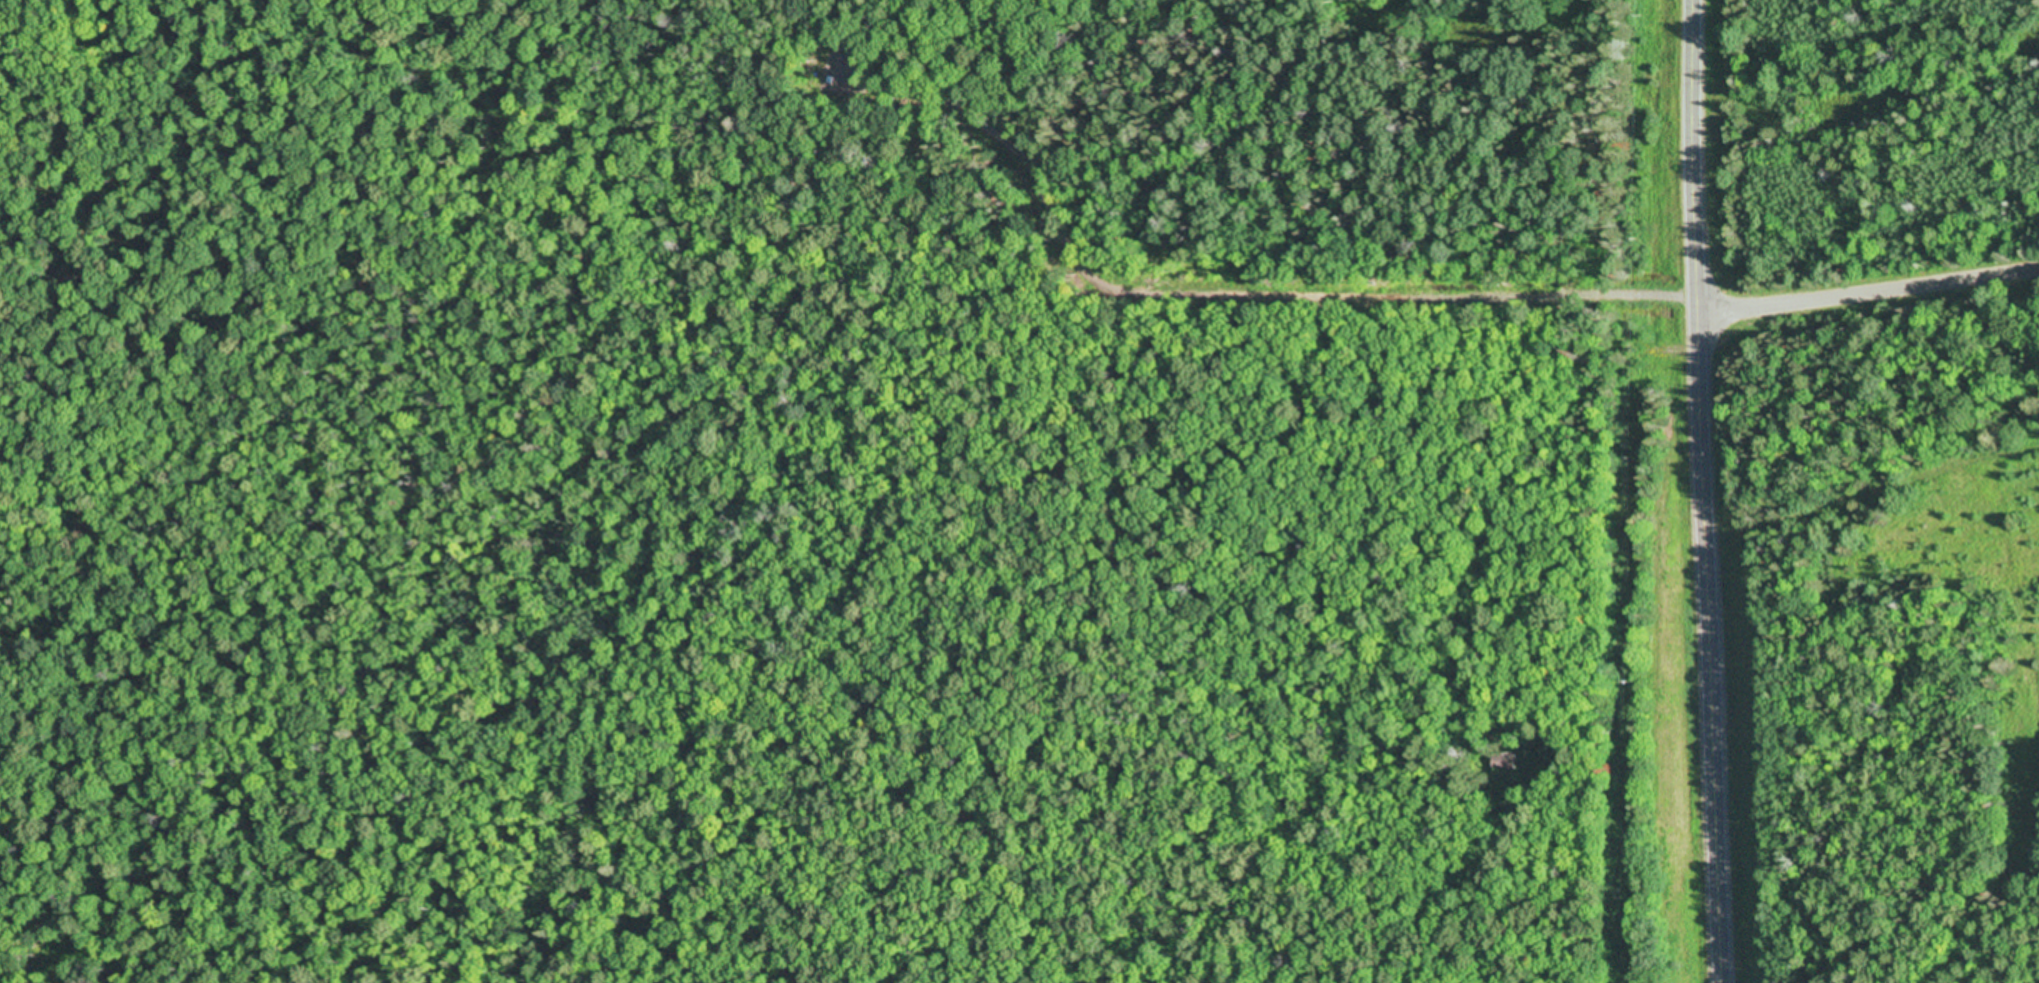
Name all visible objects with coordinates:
road: (1872, 285)
road: (1712, 491)

